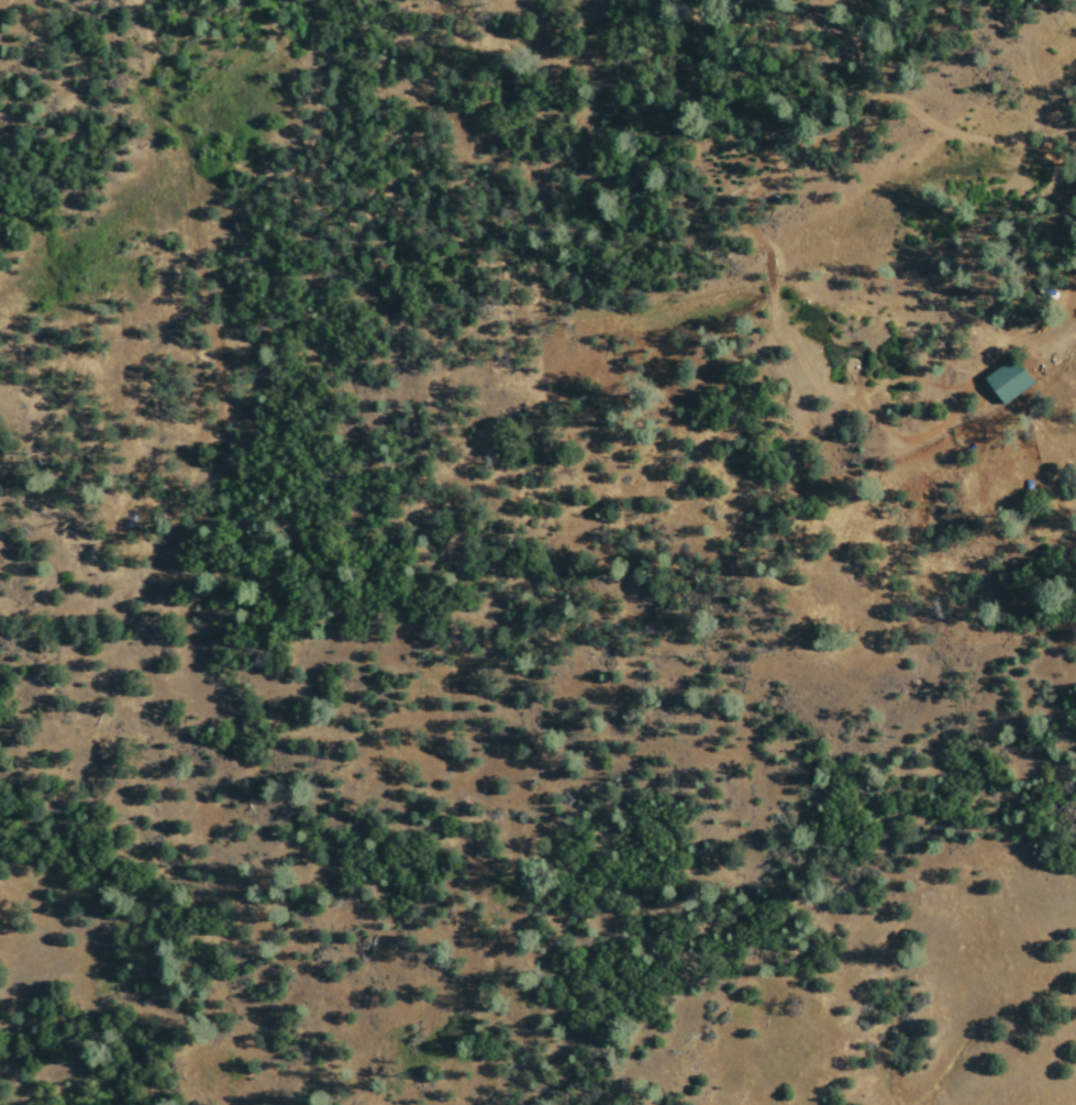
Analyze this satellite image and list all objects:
building: (1002, 379)

